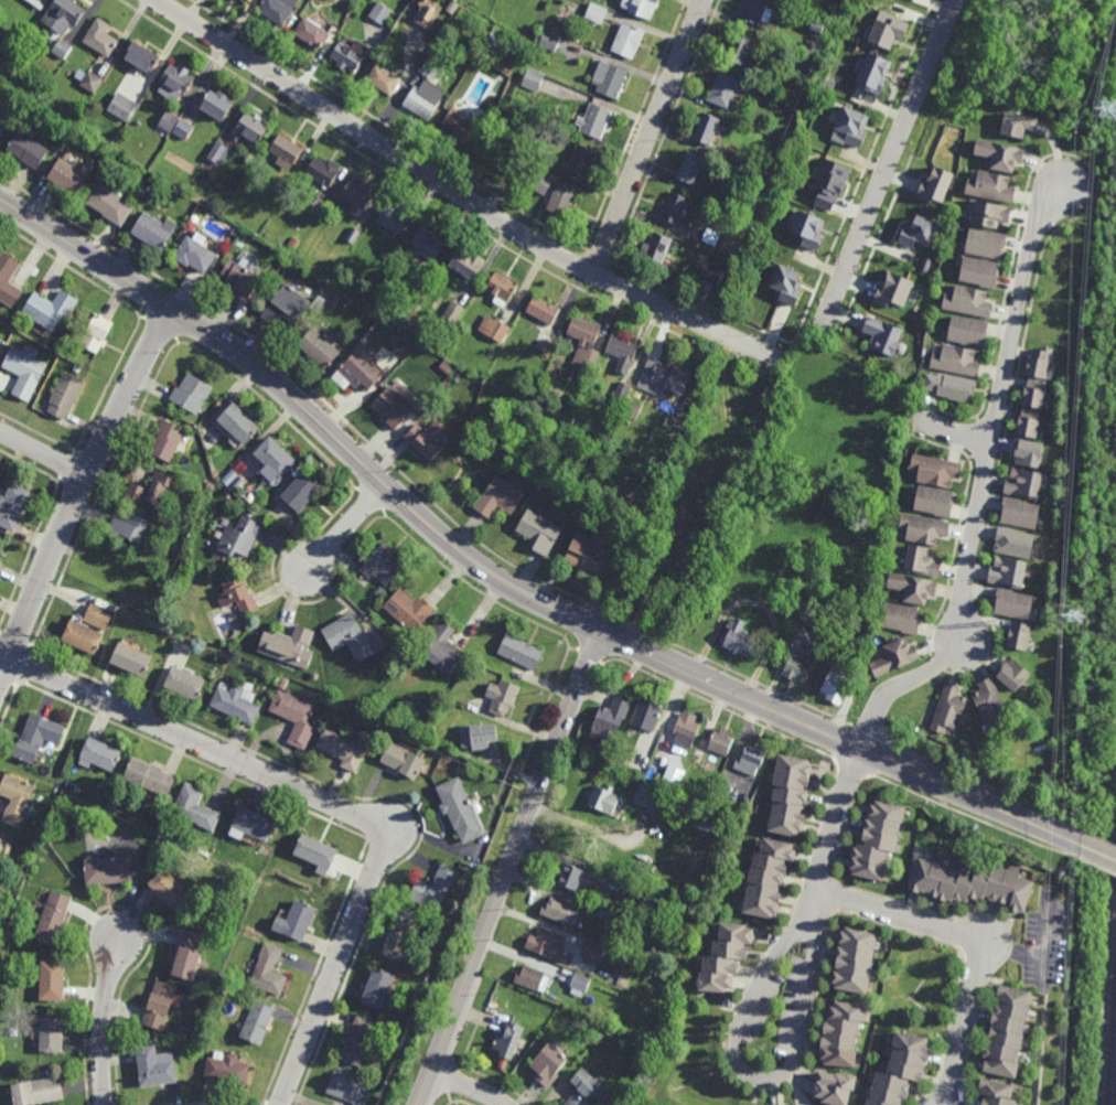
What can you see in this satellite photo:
building: (236, 0)
building: (245, 1)
building: (35, 4)
building: (455, 4)
building: (644, 6)
building: (599, 9)
building: (756, 9)
building: (279, 10)
building: (379, 12)
building: (428, 12)
building: (62, 14)
building: (889, 31)
building: (312, 32)
building: (100, 36)
building: (549, 36)
building: (631, 37)
building: (813, 46)
building: (62, 49)
building: (742, 49)
building: (351, 52)
building: (438, 54)
building: (142, 57)
building: (801, 58)
building: (876, 72)
building: (612, 76)
building: (384, 77)
building: (535, 77)
building: (92, 82)
building: (175, 82)
building: (727, 87)
building: (427, 89)
building: (791, 89)
building: (217, 103)
building: (121, 108)
power tower: (1112, 108)
building: (4, 118)
building: (597, 118)
building: (168, 124)
building: (1019, 124)
building: (254, 127)
building: (709, 127)
building: (850, 127)
building: (465, 128)
building: (184, 129)
road: (648, 137)
building: (28, 148)
road: (870, 149)
building: (287, 151)
building: (222, 153)
building: (1001, 153)
building: (584, 158)
building: (747, 158)
road: (887, 162)
building: (694, 167)
building: (325, 170)
building: (69, 175)
building: (748, 179)
building: (823, 180)
building: (543, 181)
building: (935, 184)
building: (992, 186)
building: (142, 189)
building: (699, 192)
building: (357, 193)
road: (457, 194)
building: (151, 195)
building: (564, 197)
building: (111, 203)
building: (676, 206)
building: (987, 213)
building: (394, 217)
building: (743, 223)
building: (808, 228)
building: (154, 230)
building: (697, 232)
building: (919, 232)
building: (354, 235)
building: (230, 236)
building: (294, 242)
building: (428, 243)
building: (745, 243)
building: (987, 243)
building: (659, 247)
building: (196, 253)
building: (468, 262)
building: (981, 271)
building: (711, 272)
building: (243, 279)
building: (9, 280)
building: (786, 285)
road: (665, 287)
building: (502, 288)
building: (894, 290)
building: (337, 297)
road: (819, 301)
building: (968, 301)
building: (288, 305)
building: (50, 309)
building: (544, 309)
building: (454, 312)
road: (737, 321)
building: (887, 326)
building: (495, 329)
road: (796, 329)
road: (756, 330)
building: (969, 331)
building: (97, 333)
building: (15, 336)
building: (77, 337)
building: (395, 337)
building: (586, 341)
building: (1, 342)
building: (546, 342)
road: (765, 344)
building: (321, 347)
building: (623, 353)
building: (956, 360)
building: (1040, 362)
building: (447, 367)
building: (24, 371)
building: (358, 375)
building: (665, 378)
building: (952, 387)
building: (623, 390)
building: (768, 391)
building: (191, 394)
building: (1035, 394)
building: (65, 396)
building: (393, 406)
building: (39, 407)
building: (633, 410)
building: (239, 423)
building: (1030, 423)
road: (954, 431)
building: (427, 440)
building: (167, 441)
road: (44, 453)
building: (1029, 453)
building: (277, 458)
building: (935, 471)
road: (981, 482)
building: (1024, 484)
building: (208, 485)
building: (154, 492)
building: (302, 492)
road: (82, 493)
building: (500, 498)
road: (698, 500)
building: (936, 503)
building: (13, 506)
building: (1021, 514)
building: (582, 517)
road: (348, 526)
building: (130, 527)
building: (924, 530)
building: (539, 532)
building: (242, 537)
building: (1015, 545)
building: (588, 552)
building: (924, 564)
building: (1, 565)
building: (382, 567)
building: (1009, 575)
road: (501, 581)
building: (913, 589)
building: (383, 594)
building: (238, 596)
building: (1013, 605)
building: (410, 611)
building: (902, 620)
power tower: (1073, 620)
building: (88, 632)
building: (1020, 637)
building: (351, 639)
building: (739, 640)
building: (289, 647)
building: (443, 650)
building: (522, 653)
building: (894, 659)
building: (131, 662)
building: (797, 668)
building: (1013, 676)
building: (315, 677)
building: (283, 684)
building: (185, 686)
building: (837, 686)
building: (504, 698)
building: (237, 705)
building: (991, 706)
building: (951, 712)
building: (650, 717)
building: (297, 720)
building: (612, 721)
building: (687, 732)
building: (480, 739)
building: (34, 741)
building: (722, 741)
building: (343, 750)
building: (98, 755)
building: (604, 757)
building: (750, 758)
building: (404, 759)
building: (150, 774)
building: (675, 774)
building: (656, 775)
building: (688, 786)
building: (725, 788)
building: (65, 793)
building: (790, 793)
building: (604, 796)
building: (653, 796)
building: (17, 798)
road: (324, 802)
building: (195, 805)
building: (460, 807)
building: (253, 823)
road: (833, 830)
building: (879, 837)
building: (1, 840)
road: (1097, 848)
building: (316, 849)
building: (108, 868)
road: (509, 868)
building: (768, 876)
building: (577, 877)
building: (974, 881)
building: (434, 887)
building: (171, 888)
building: (634, 890)
building: (658, 894)
building: (562, 911)
building: (609, 913)
building: (52, 916)
building: (297, 920)
building: (400, 934)
road: (980, 937)
building: (548, 944)
building: (589, 947)
building: (187, 954)
building: (726, 955)
building: (855, 959)
building: (270, 969)
building: (532, 978)
building: (52, 979)
building: (580, 984)
building: (378, 987)
building: (160, 1005)
building: (258, 1022)
road: (101, 1024)
railway: (1112, 1027)
building: (191, 1029)
building: (1009, 1030)
building: (51, 1032)
building: (843, 1033)
building: (358, 1040)
building: (508, 1040)
building: (548, 1064)
building: (154, 1066)
building: (227, 1068)
building: (901, 1070)
road: (752, 1077)
railway: (1114, 1082)
road: (468, 1085)
building: (587, 1087)
building: (835, 1087)
building: (348, 1088)
building: (37, 1091)
building: (998, 1092)

